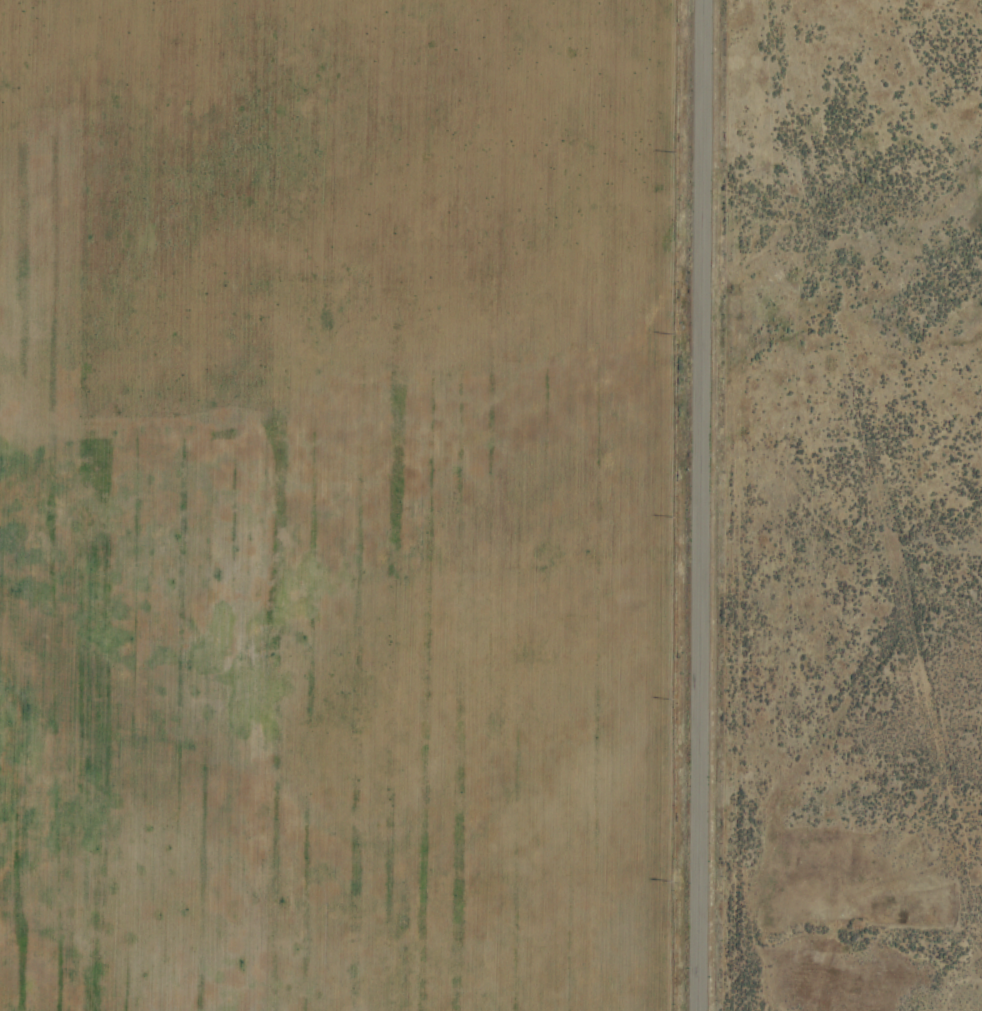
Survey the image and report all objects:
crop: (448, 472)
road: (697, 505)

